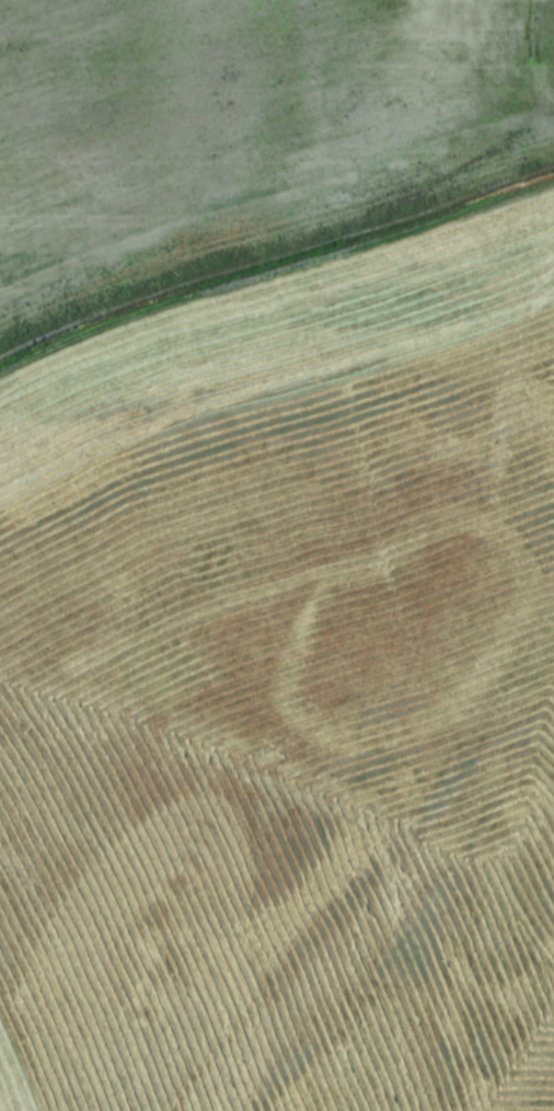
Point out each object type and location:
crop: (277, 555)

